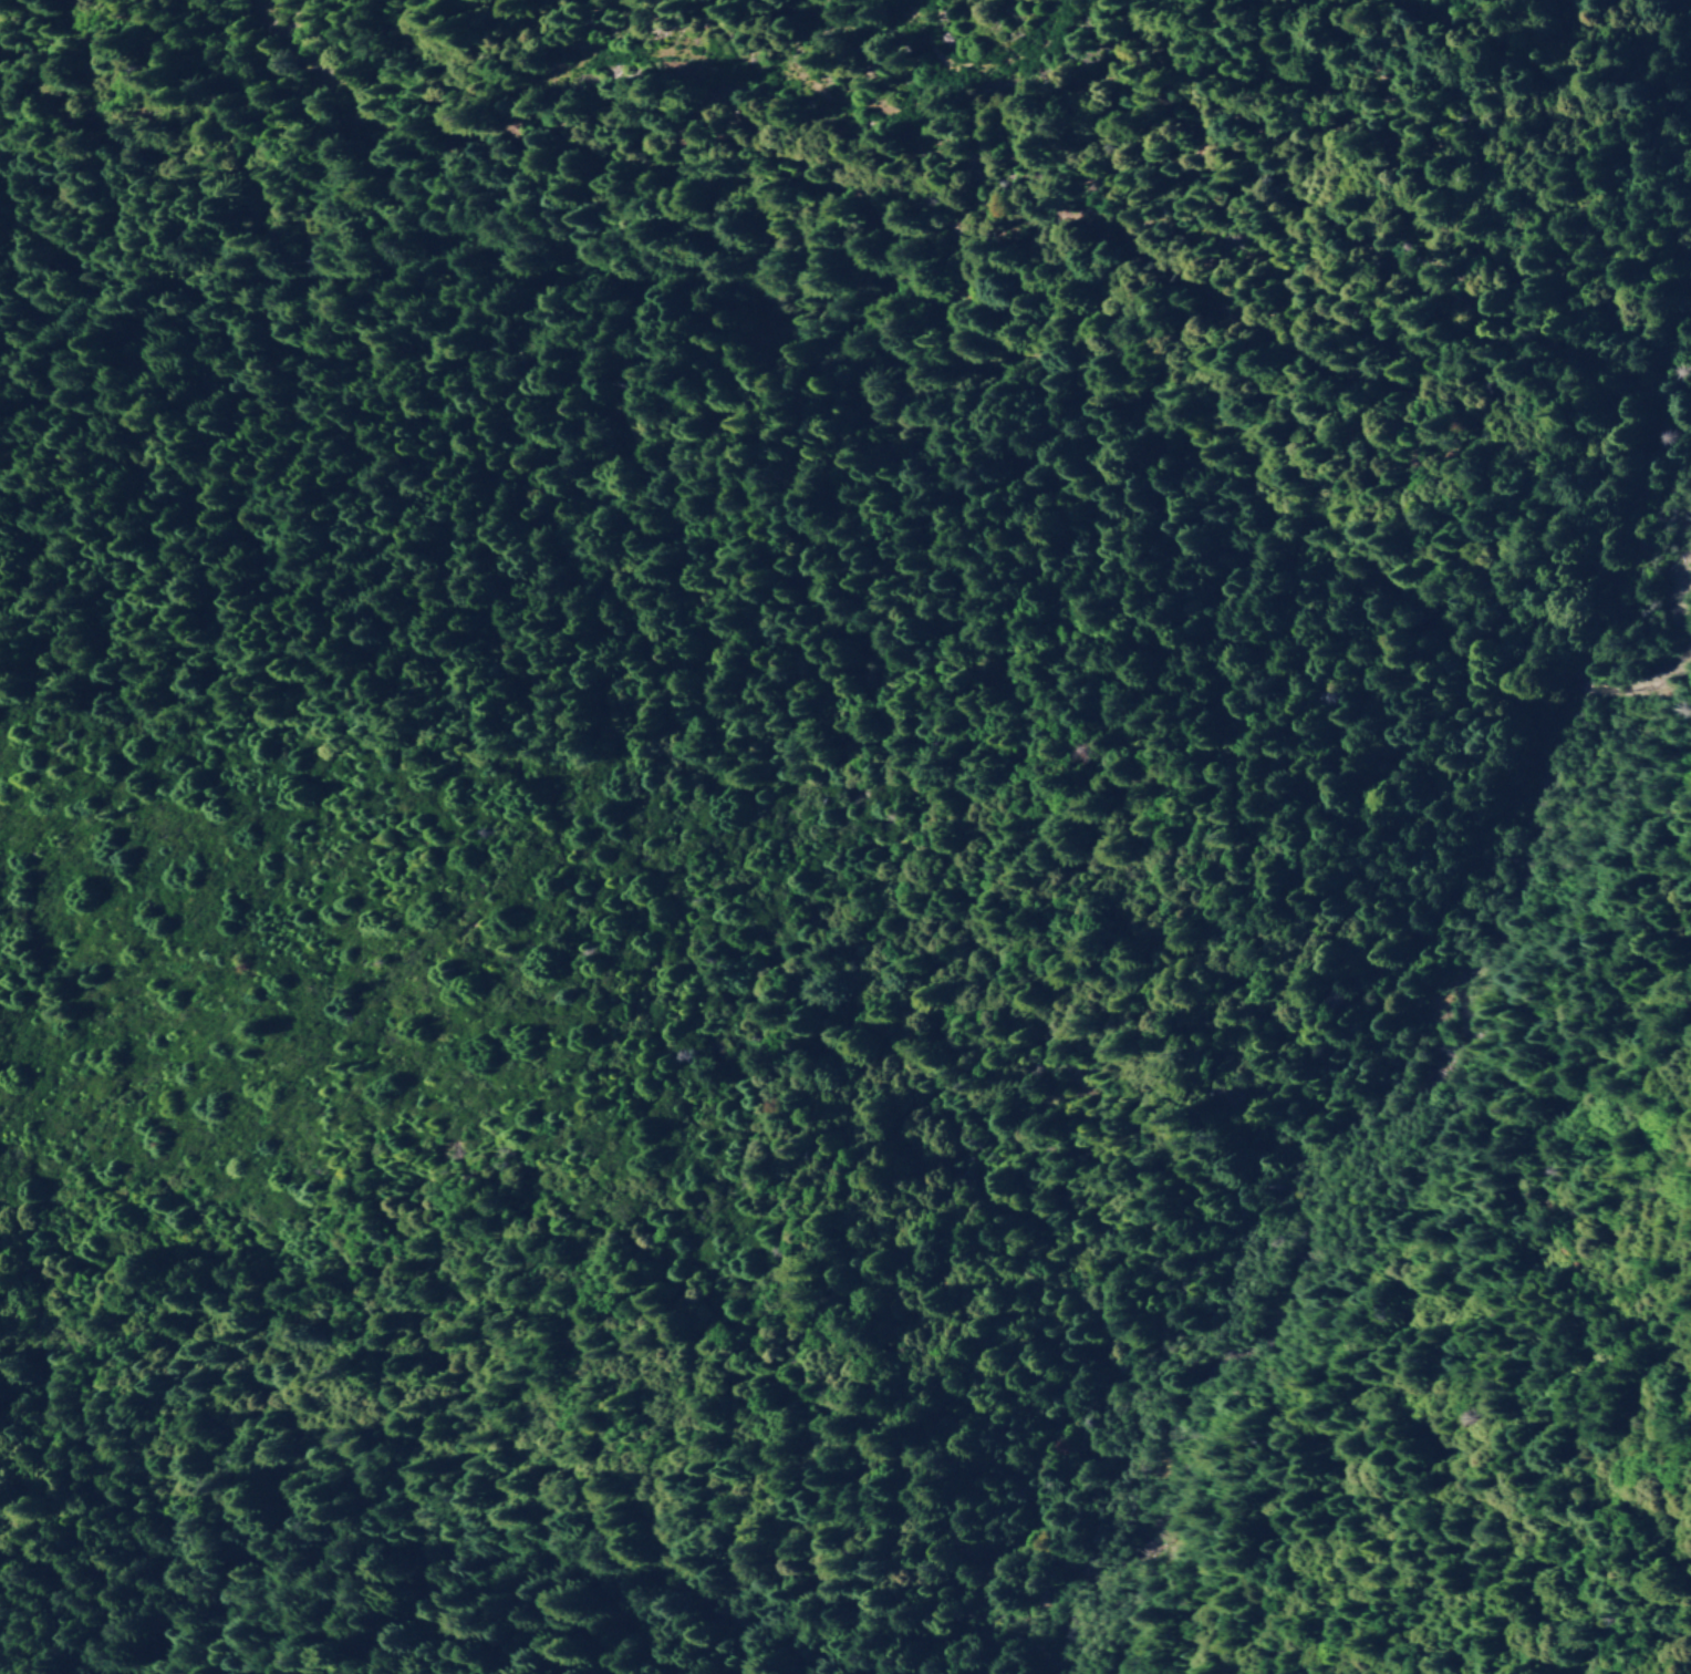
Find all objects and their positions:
road: (1496, 896)

